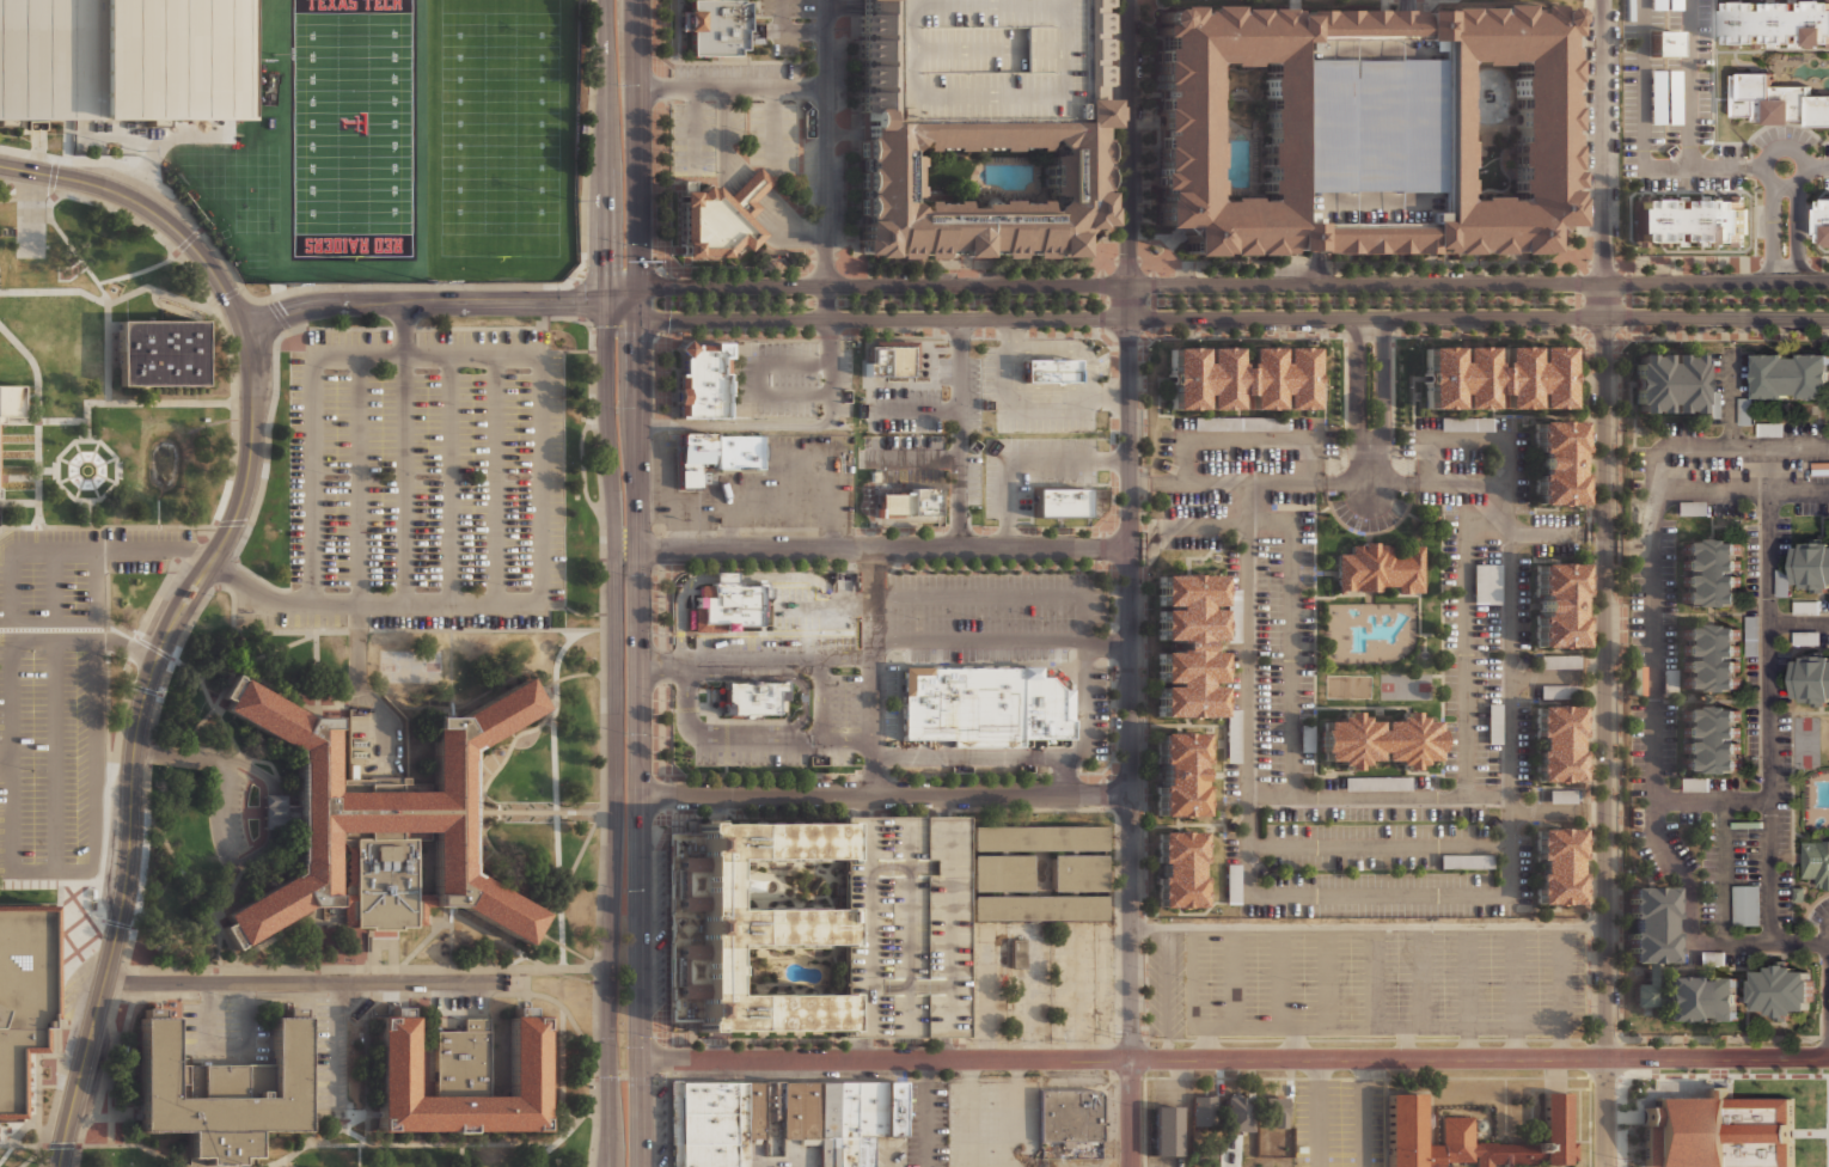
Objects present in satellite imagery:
building: (1658, 5)
building: (1675, 5)
road: (843, 6)
road: (1408, 6)
parking lot: (766, 8)
parking lot: (803, 8)
parking lot: (1629, 18)
parking lot: (1675, 18)
parking lot: (1658, 19)
building: (1778, 23)
building: (722, 28)
road: (788, 31)
building: (1665, 43)
parking lot: (785, 48)
parking lot: (979, 57)
building: (120, 59)
parking lot: (1656, 63)
parking lot: (1674, 63)
parking lot: (738, 71)
parking lot: (840, 72)
parking lot: (1703, 72)
road: (1692, 84)
road: (732, 88)
building: (1657, 96)
building: (1674, 96)
building: (1776, 102)
parking lot: (1629, 112)
road: (696, 129)
road: (775, 129)
building: (177, 130)
building: (1185, 130)
parking lot: (1364, 130)
building: (980, 132)
parking lot: (695, 133)
parking lot: (1674, 133)
parking lot: (775, 135)
parking lot: (1657, 136)
parking lot: (1763, 136)
parking lot: (1802, 136)
park: (432, 140)
road: (724, 141)
road: (1127, 142)
road: (1645, 142)
road: (607, 151)
road: (638, 151)
parking lot: (1727, 151)
road: (1794, 151)
road: (27, 152)
road: (738, 160)
road: (733, 164)
road: (730, 166)
road: (1816, 167)
parking lot: (695, 169)
road: (727, 170)
road: (759, 181)
parking lot: (1719, 182)
parking lot: (1658, 184)
road: (753, 188)
road: (24, 189)
road: (751, 196)
parking lot: (840, 201)
road: (746, 202)
road: (146, 208)
road: (740, 209)
road: (789, 212)
road: (31, 213)
road: (826, 213)
building: (718, 216)
building: (1688, 220)
building: (1825, 220)
road: (791, 225)
road: (783, 226)
building: (7, 230)
road: (61, 234)
road: (779, 234)
road: (778, 239)
road: (1798, 240)
road: (1773, 242)
road: (1319, 268)
road: (137, 270)
road: (1479, 283)
road: (881, 285)
road: (427, 287)
road: (54, 291)
park: (1247, 299)
road: (1244, 300)
road: (662, 301)
road: (1128, 301)
road: (421, 303)
traffic signals: (607, 303)
road: (623, 303)
traffic signals: (640, 303)
road: (218, 312)
road: (1478, 318)
road: (881, 319)
road: (1052, 343)
building: (163, 353)
road: (1020, 355)
building: (703, 356)
building: (892, 358)
road: (105, 360)
building: (1047, 369)
parking lot: (990, 372)
parking lot: (1730, 372)
building: (1493, 375)
building: (1792, 375)
road: (763, 378)
building: (1237, 378)
parking lot: (795, 379)
building: (1669, 383)
building: (702, 387)
road: (1097, 393)
parking lot: (975, 395)
road: (1731, 398)
building: (12, 401)
building: (1714, 404)
road: (1029, 408)
building: (703, 409)
parking lot: (906, 410)
road: (914, 410)
building: (1744, 410)
road: (538, 413)
road: (37, 420)
road: (63, 420)
parking lot: (1714, 421)
parking lot: (1183, 422)
parking lot: (1047, 423)
building: (1238, 423)
parking lot: (1298, 423)
parking lot: (1429, 423)
building: (1466, 423)
parking lot: (1498, 423)
road: (745, 426)
road: (85, 429)
building: (1770, 429)
road: (961, 434)
road: (597, 439)
road: (1247, 439)
building: (1167, 442)
parking lot: (1167, 442)
parking lot: (1332, 442)
parking lot: (1408, 442)
parking lot: (1054, 444)
road: (1369, 444)
building: (740, 452)
road: (404, 454)
building: (695, 457)
parking lot: (906, 457)
road: (824, 458)
road: (911, 459)
road: (1070, 459)
parking lot: (1249, 459)
parking lot: (1462, 459)
road: (582, 460)
building: (1555, 460)
road: (47, 469)
parking lot: (1522, 469)
road: (1370, 471)
parking lot: (1053, 475)
building: (874, 476)
parking lot: (975, 476)
road: (18, 477)
parking lot: (426, 478)
road: (115, 479)
road: (359, 479)
road: (448, 479)
road: (494, 479)
road: (1317, 484)
parking lot: (992, 485)
parking lot: (765, 488)
road: (673, 489)
road: (1742, 491)
parking lot: (1291, 496)
parking lot: (1452, 496)
building: (1096, 499)
parking lot: (1724, 500)
road: (18, 501)
parking lot: (1024, 501)
road: (735, 502)
building: (910, 502)
building: (1060, 502)
parking lot: (1200, 502)
road: (1011, 503)
building: (1689, 507)
parking lot: (1341, 508)
road: (86, 512)
parking lot: (1388, 515)
parking lot: (1555, 519)
road: (105, 526)
road: (1542, 534)
parking lot: (1305, 536)
parking lot: (1197, 540)
road: (14, 548)
road: (883, 549)
parking lot: (1554, 549)
road: (626, 550)
parking lot: (1486, 550)
parking lot: (1451, 554)
road: (93, 564)
building: (1813, 566)
building: (1380, 568)
parking lot: (1232, 569)
parking lot: (74, 572)
building: (1709, 572)
road: (720, 578)
parking lot: (991, 581)
parking lot: (843, 582)
road: (1605, 582)
building: (1782, 582)
building: (1487, 583)
road: (51, 585)
parking lot: (789, 592)
road: (1066, 595)
road: (1291, 597)
road: (155, 598)
parking lot: (1523, 603)
building: (1556, 603)
building: (728, 604)
road: (796, 607)
parking lot: (1101, 607)
road: (108, 612)
parking lot: (984, 618)
parking lot: (789, 623)
road: (1799, 623)
road: (417, 629)
parking lot: (844, 633)
building: (1806, 636)
road: (82, 639)
road: (1002, 640)
road: (1469, 640)
parking lot: (751, 642)
road: (241, 646)
building: (1188, 646)
road: (149, 650)
road: (258, 655)
parking lot: (991, 655)
building: (1709, 655)
road: (848, 656)
parking lot: (1270, 656)
building: (1559, 661)
road: (730, 664)
park: (411, 666)
road: (316, 671)
road: (821, 672)
road: (874, 672)
road: (573, 674)
road: (1542, 677)
building: (1813, 677)
road: (362, 683)
road: (1657, 684)
building: (917, 685)
building: (231, 688)
road: (1130, 689)
road: (1769, 695)
building: (753, 698)
parking lot: (845, 701)
parking lot: (892, 701)
building: (954, 704)
building: (984, 705)
building: (1008, 705)
building: (1044, 707)
parking lot: (1100, 714)
building: (918, 722)
road: (794, 726)
road: (225, 728)
road: (185, 733)
road: (616, 734)
road: (640, 734)
building: (1232, 735)
building: (1709, 737)
road: (134, 738)
building: (1378, 738)
road: (797, 740)
park: (1805, 740)
road: (513, 741)
building: (1556, 743)
parking lot: (50, 752)
road: (53, 753)
road: (93, 753)
road: (987, 757)
parking lot: (753, 758)
parking lot: (845, 759)
road: (108, 760)
building: (1177, 772)
road: (555, 793)
road: (10, 794)
road: (886, 795)
building: (1561, 795)
road: (1378, 798)
road: (1713, 801)
road: (864, 806)
road: (946, 806)
road: (271, 811)
road: (542, 811)
road: (1556, 813)
building: (384, 827)
road: (143, 836)
building: (1034, 838)
road: (1378, 845)
building: (683, 857)
building: (1816, 860)
road: (508, 863)
building: (1556, 864)
building: (1180, 868)
road: (1724, 872)
building: (998, 873)
building: (1077, 873)
road: (82, 881)
building: (1234, 892)
building: (1799, 892)
road: (121, 893)
road: (1463, 894)
road: (559, 896)
building: (683, 904)
building: (1747, 905)
building: (1034, 906)
parking lot: (1818, 908)
parking lot: (659, 915)
road: (464, 918)
road: (215, 925)
building: (904, 925)
parking garage: (904, 925)
road: (1369, 925)
building: (761, 929)
building: (683, 934)
road: (171, 936)
road: (60, 937)
road: (317, 940)
road: (451, 940)
road: (167, 941)
road: (1117, 946)
building: (1650, 946)
road: (568, 948)
building: (1019, 953)
building: (683, 966)
road: (164, 967)
road: (402, 967)
parking lot: (1106, 969)
road: (1234, 976)
road: (1281, 976)
road: (1328, 976)
road: (1375, 976)
road: (1421, 976)
road: (306, 980)
parking lot: (1385, 982)
parking lot: (986, 983)
parking lot: (1076, 983)
parking lot: (1167, 984)
parking lot: (1032, 986)
building: (1781, 989)
road: (1469, 991)
road: (1517, 991)
road: (1562, 991)
road: (989, 992)
road: (1075, 992)
road: (1115, 992)
road: (1167, 992)
road: (406, 994)
road: (1033, 994)
building: (24, 997)
road: (557, 1002)
building: (683, 1006)
road: (1327, 1027)
road: (428, 1040)
road: (336, 1043)
road: (1207, 1043)
road: (1297, 1043)
road: (1407, 1043)
road: (226, 1045)
road: (946, 1047)
parking lot: (328, 1050)
road: (1480, 1058)
road: (666, 1059)
road: (912, 1059)
road: (366, 1062)
road: (563, 1071)
parking lot: (794, 1073)
building: (460, 1079)
parking lot: (1073, 1079)
road: (37, 1089)
building: (224, 1093)
building: (709, 1098)
building: (1276, 1110)
road: (54, 1111)
building: (765, 1111)
building: (801, 1111)
parking lot: (1113, 1111)
building: (1205, 1111)
road: (1364, 1112)
road: (926, 1113)
road: (971, 1113)
road: (1019, 1113)
road: (1132, 1113)
road: (1320, 1113)
building: (1237, 1114)
road: (325, 1116)
building: (857, 1120)
parking lot: (660, 1123)
parking lot: (1338, 1123)
parking lot: (926, 1124)
parking lot: (992, 1124)
building: (1071, 1124)
road: (343, 1126)
road: (20, 1128)
building: (709, 1128)
road: (336, 1129)
building: (1167, 1131)
building: (1717, 1131)
building: (1469, 1137)
road: (362, 1141)
road: (123, 1144)
road: (440, 1144)
road: (39, 1145)
road: (6, 1154)
road: (359, 1155)
road: (461, 1155)
road: (537, 1155)
building: (709, 1155)
road: (29, 1156)
road: (78, 1156)
road: (169, 1162)
road: (176, 1163)

